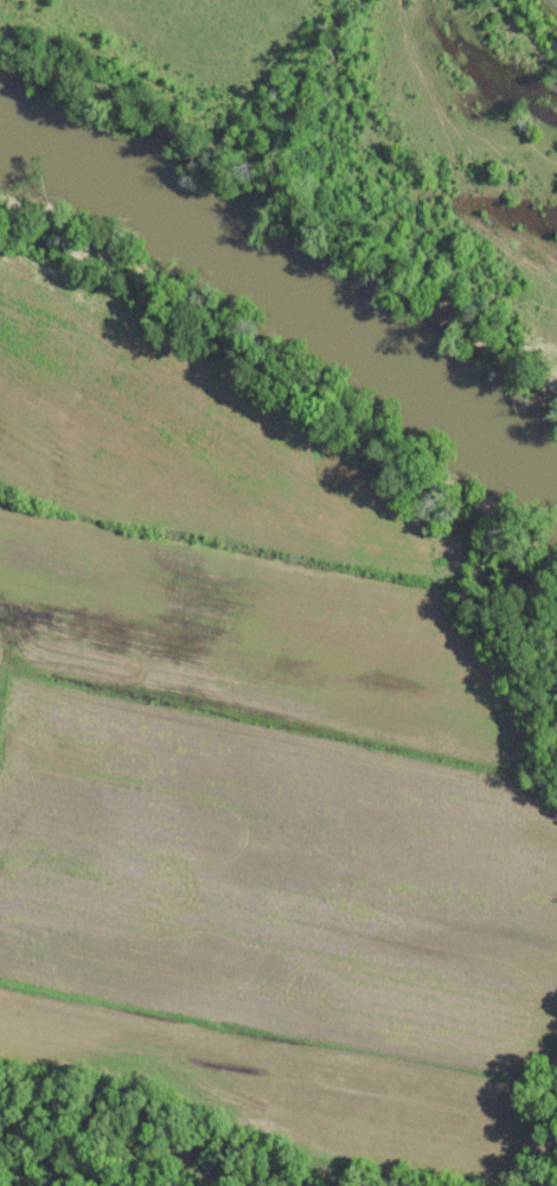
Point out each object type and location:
river: (288, 274)

